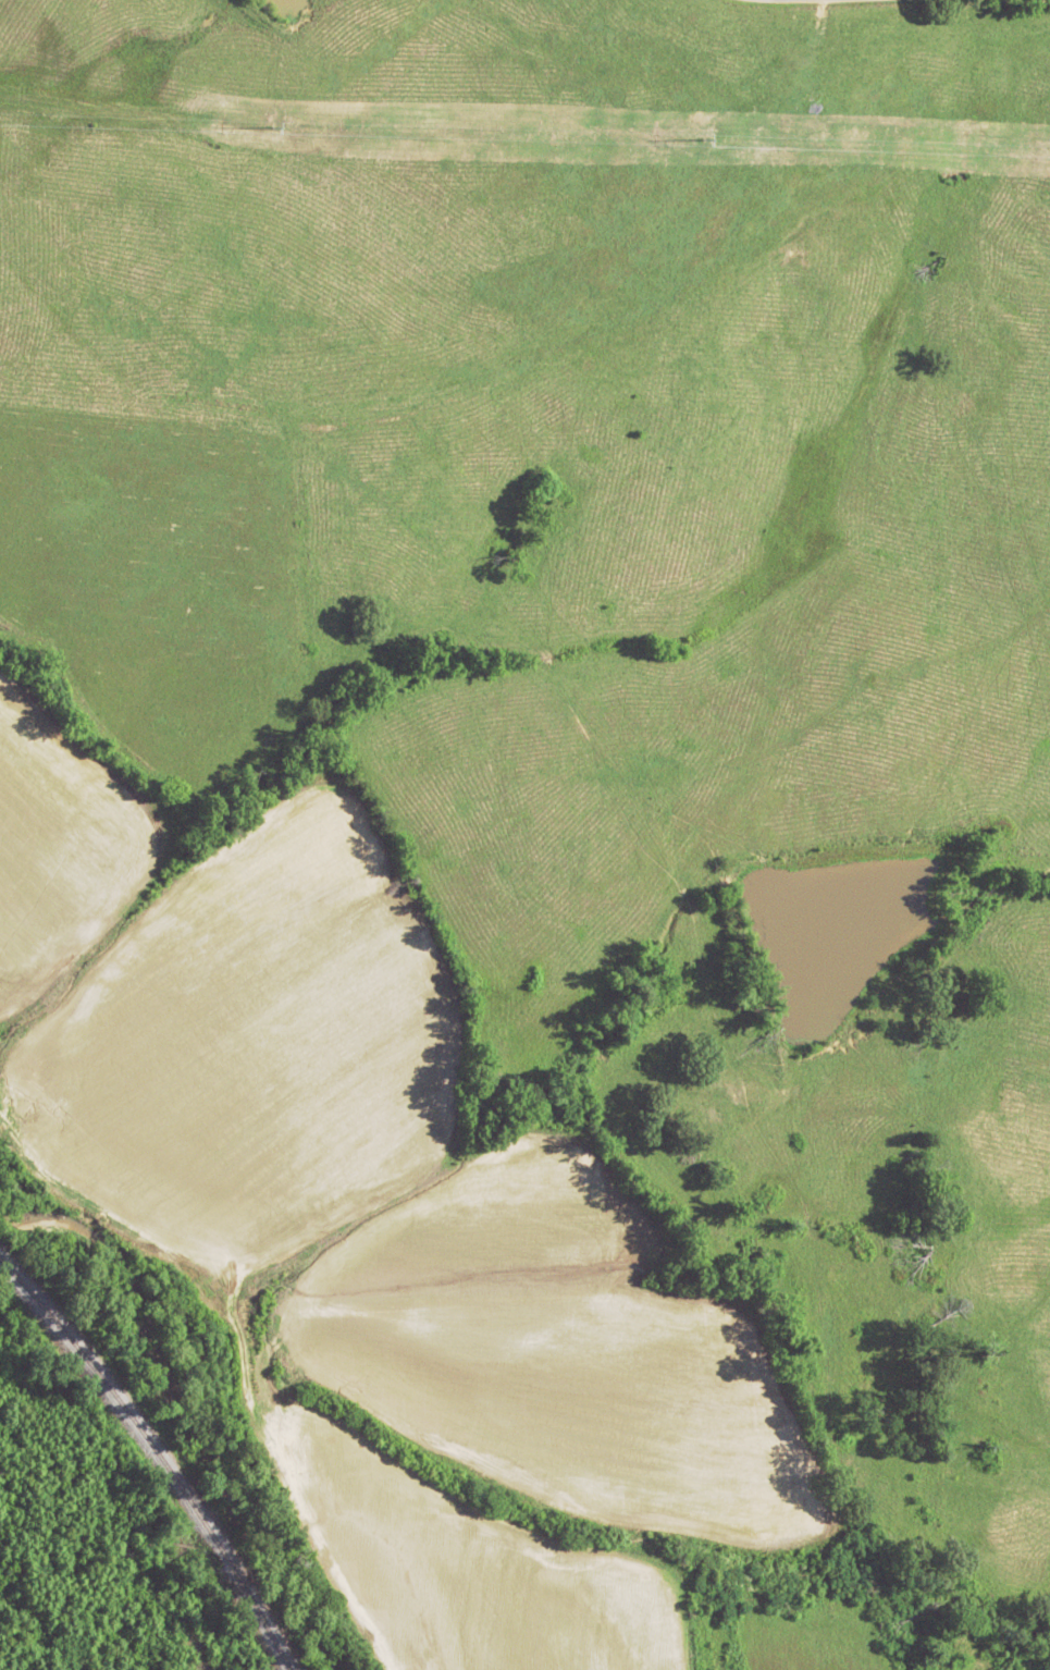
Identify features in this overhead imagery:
road: (898, 17)
railway: (155, 1457)

